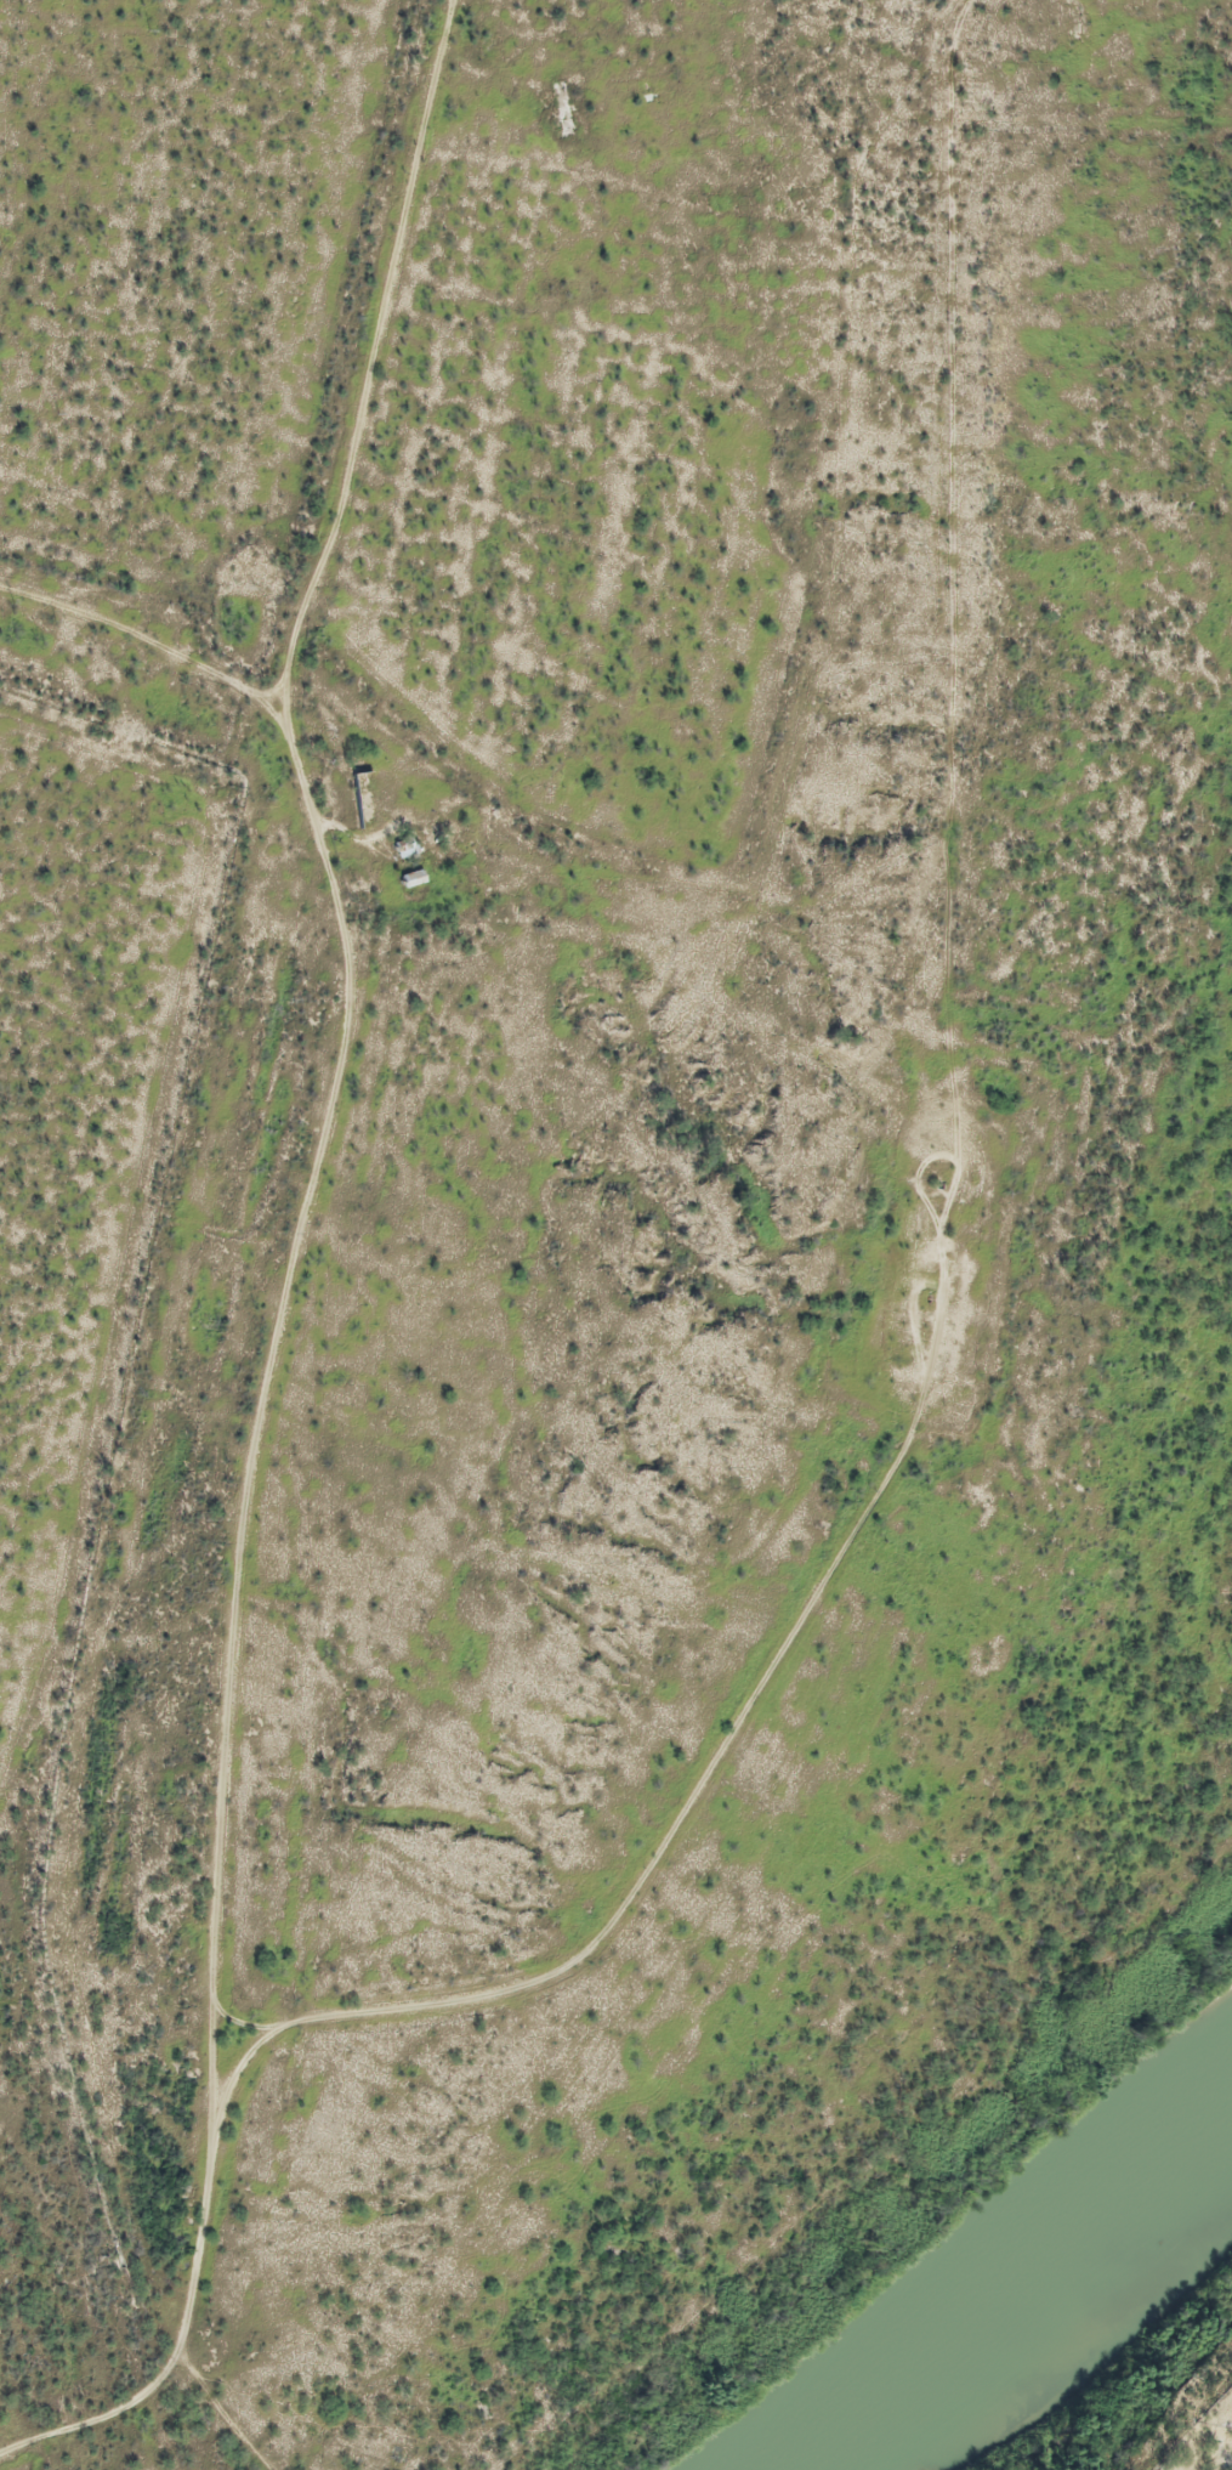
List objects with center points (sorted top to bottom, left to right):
road: (373, 362)
road: (151, 636)
road: (231, 1632)
river: (1032, 2301)

